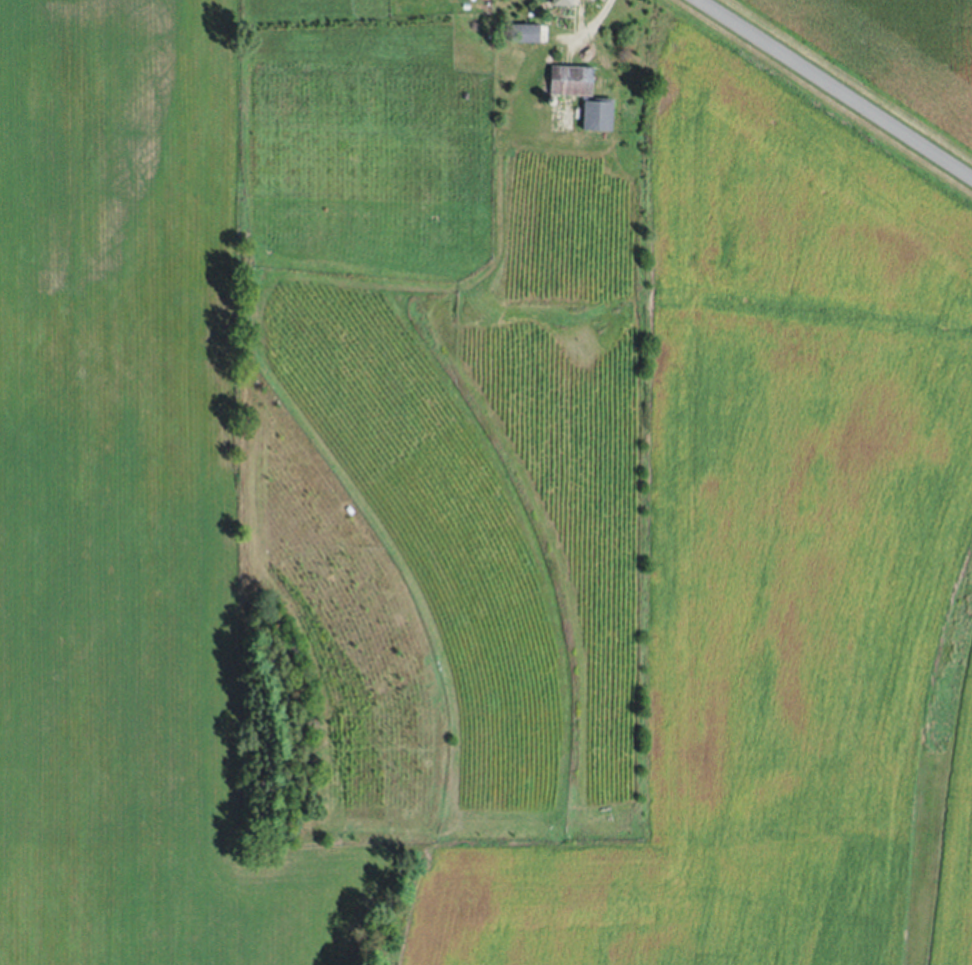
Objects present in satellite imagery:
building: (562, 2)
building: (525, 34)
building: (571, 80)
road: (835, 87)
building: (595, 116)
airport runway: (878, 915)

